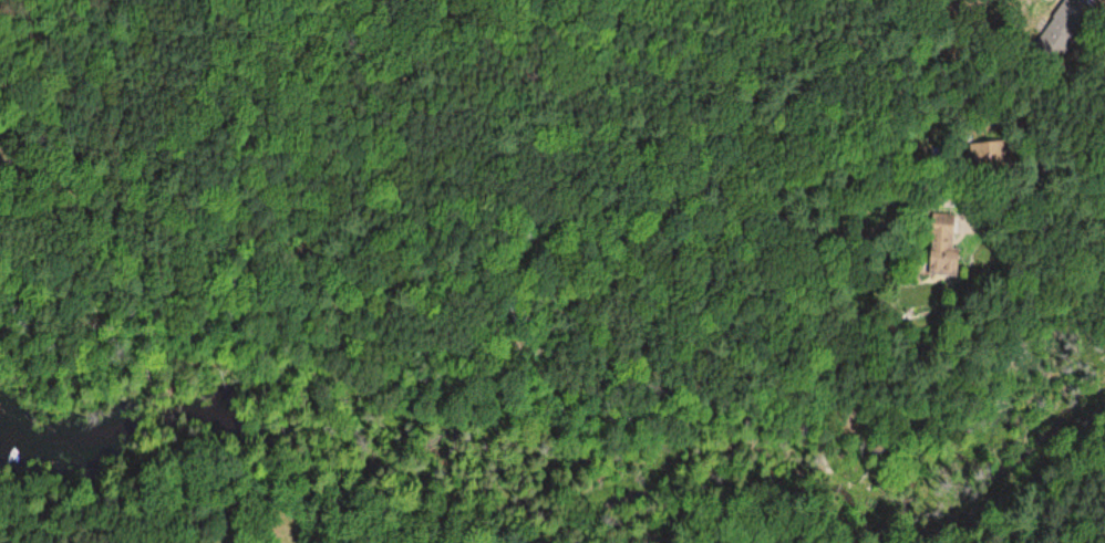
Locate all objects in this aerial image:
building: (1063, 23)
building: (940, 249)

